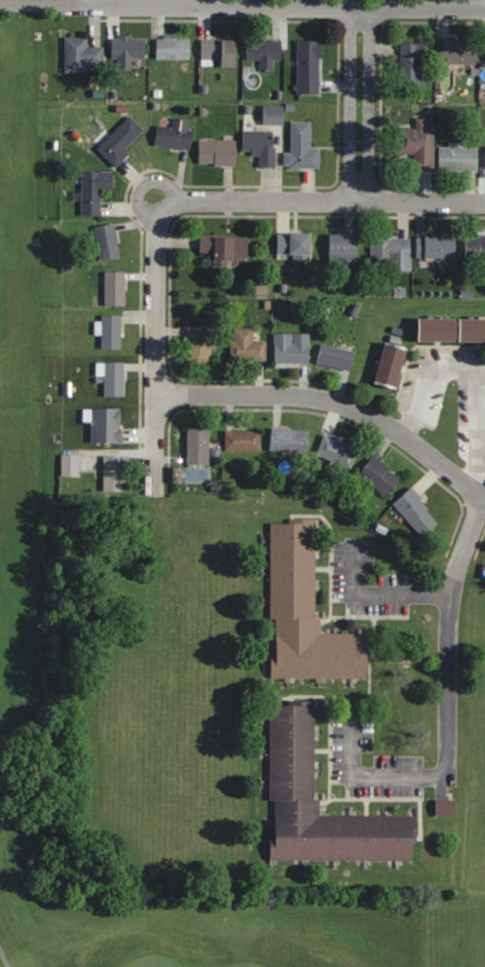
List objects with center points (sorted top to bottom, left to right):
road: (91, 2)
road: (242, 5)
building: (173, 48)
building: (128, 50)
building: (220, 51)
building: (265, 52)
building: (459, 52)
building: (81, 55)
building: (309, 67)
building: (411, 67)
road: (350, 103)
road: (370, 103)
building: (274, 115)
building: (175, 134)
building: (120, 141)
building: (418, 144)
building: (261, 145)
building: (302, 148)
building: (217, 152)
building: (458, 158)
building: (94, 190)
road: (325, 198)
building: (107, 241)
building: (296, 245)
building: (436, 246)
building: (475, 246)
building: (225, 247)
building: (344, 248)
building: (392, 250)
building: (115, 287)
building: (452, 329)
building: (111, 331)
building: (199, 343)
building: (247, 346)
road: (158, 349)
building: (290, 350)
building: (335, 356)
building: (392, 364)
road: (477, 369)
building: (115, 379)
road: (336, 402)
building: (106, 425)
building: (243, 440)
building: (290, 440)
building: (198, 445)
park: (18, 451)
building: (338, 451)
building: (114, 471)
building: (378, 477)
building: (417, 512)
road: (384, 592)
building: (306, 612)
road: (447, 633)
building: (292, 750)
road: (375, 777)
park: (453, 929)
road: (8, 950)
park: (159, 960)

